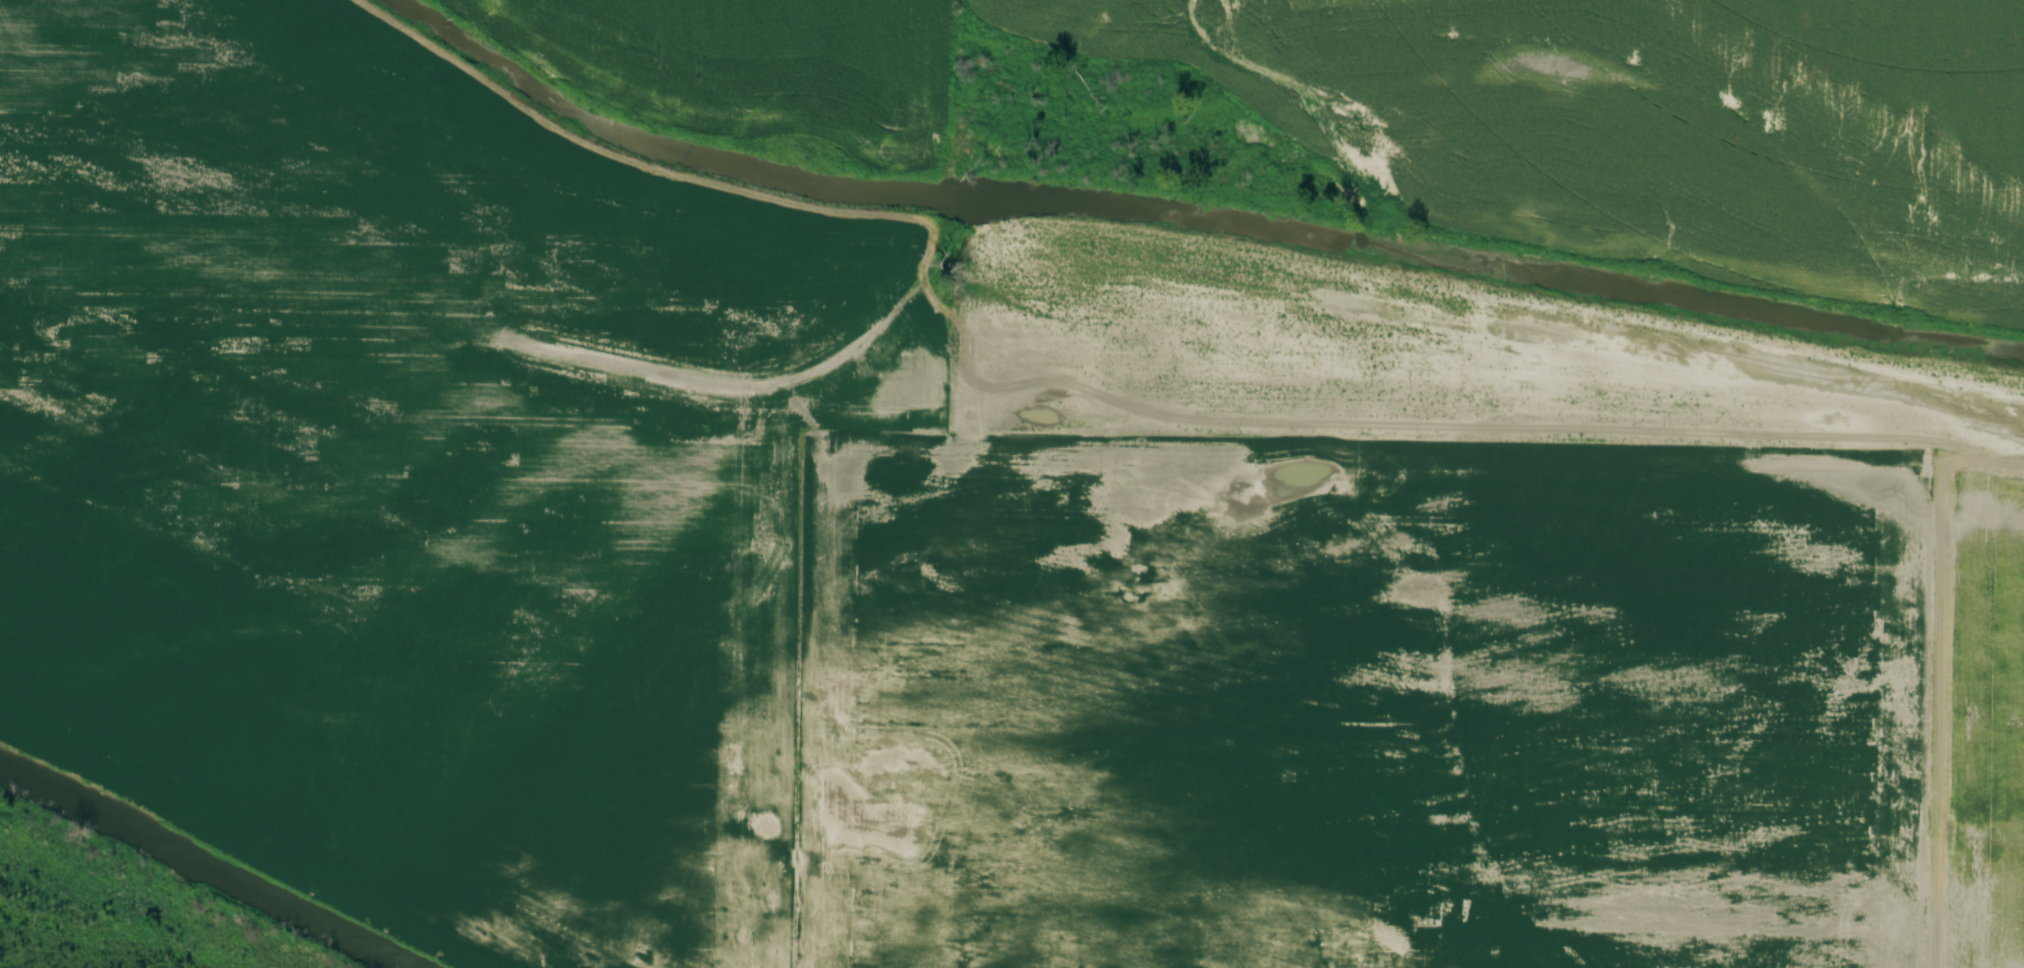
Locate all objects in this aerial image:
road: (1936, 674)

